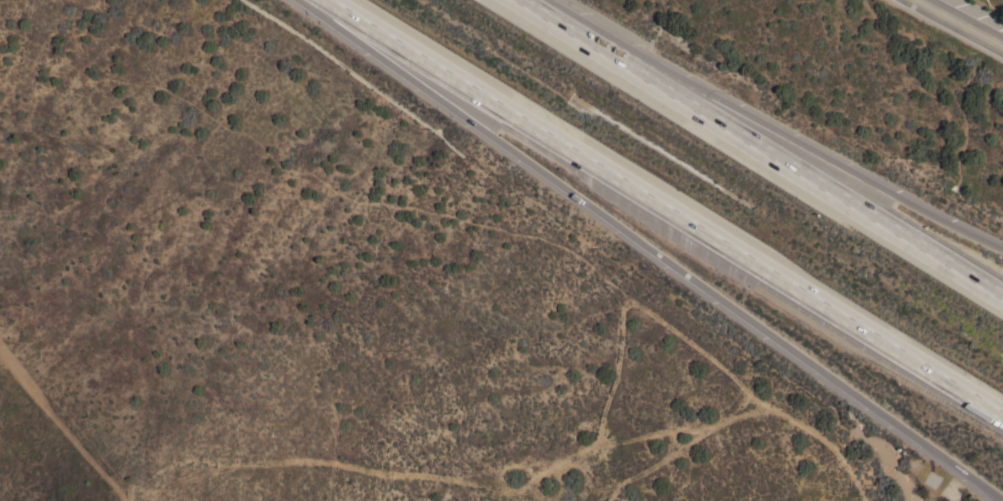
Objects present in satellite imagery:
road: (561, 18)
road: (963, 22)
road: (797, 137)
road: (797, 162)
road: (667, 201)
road: (658, 246)

